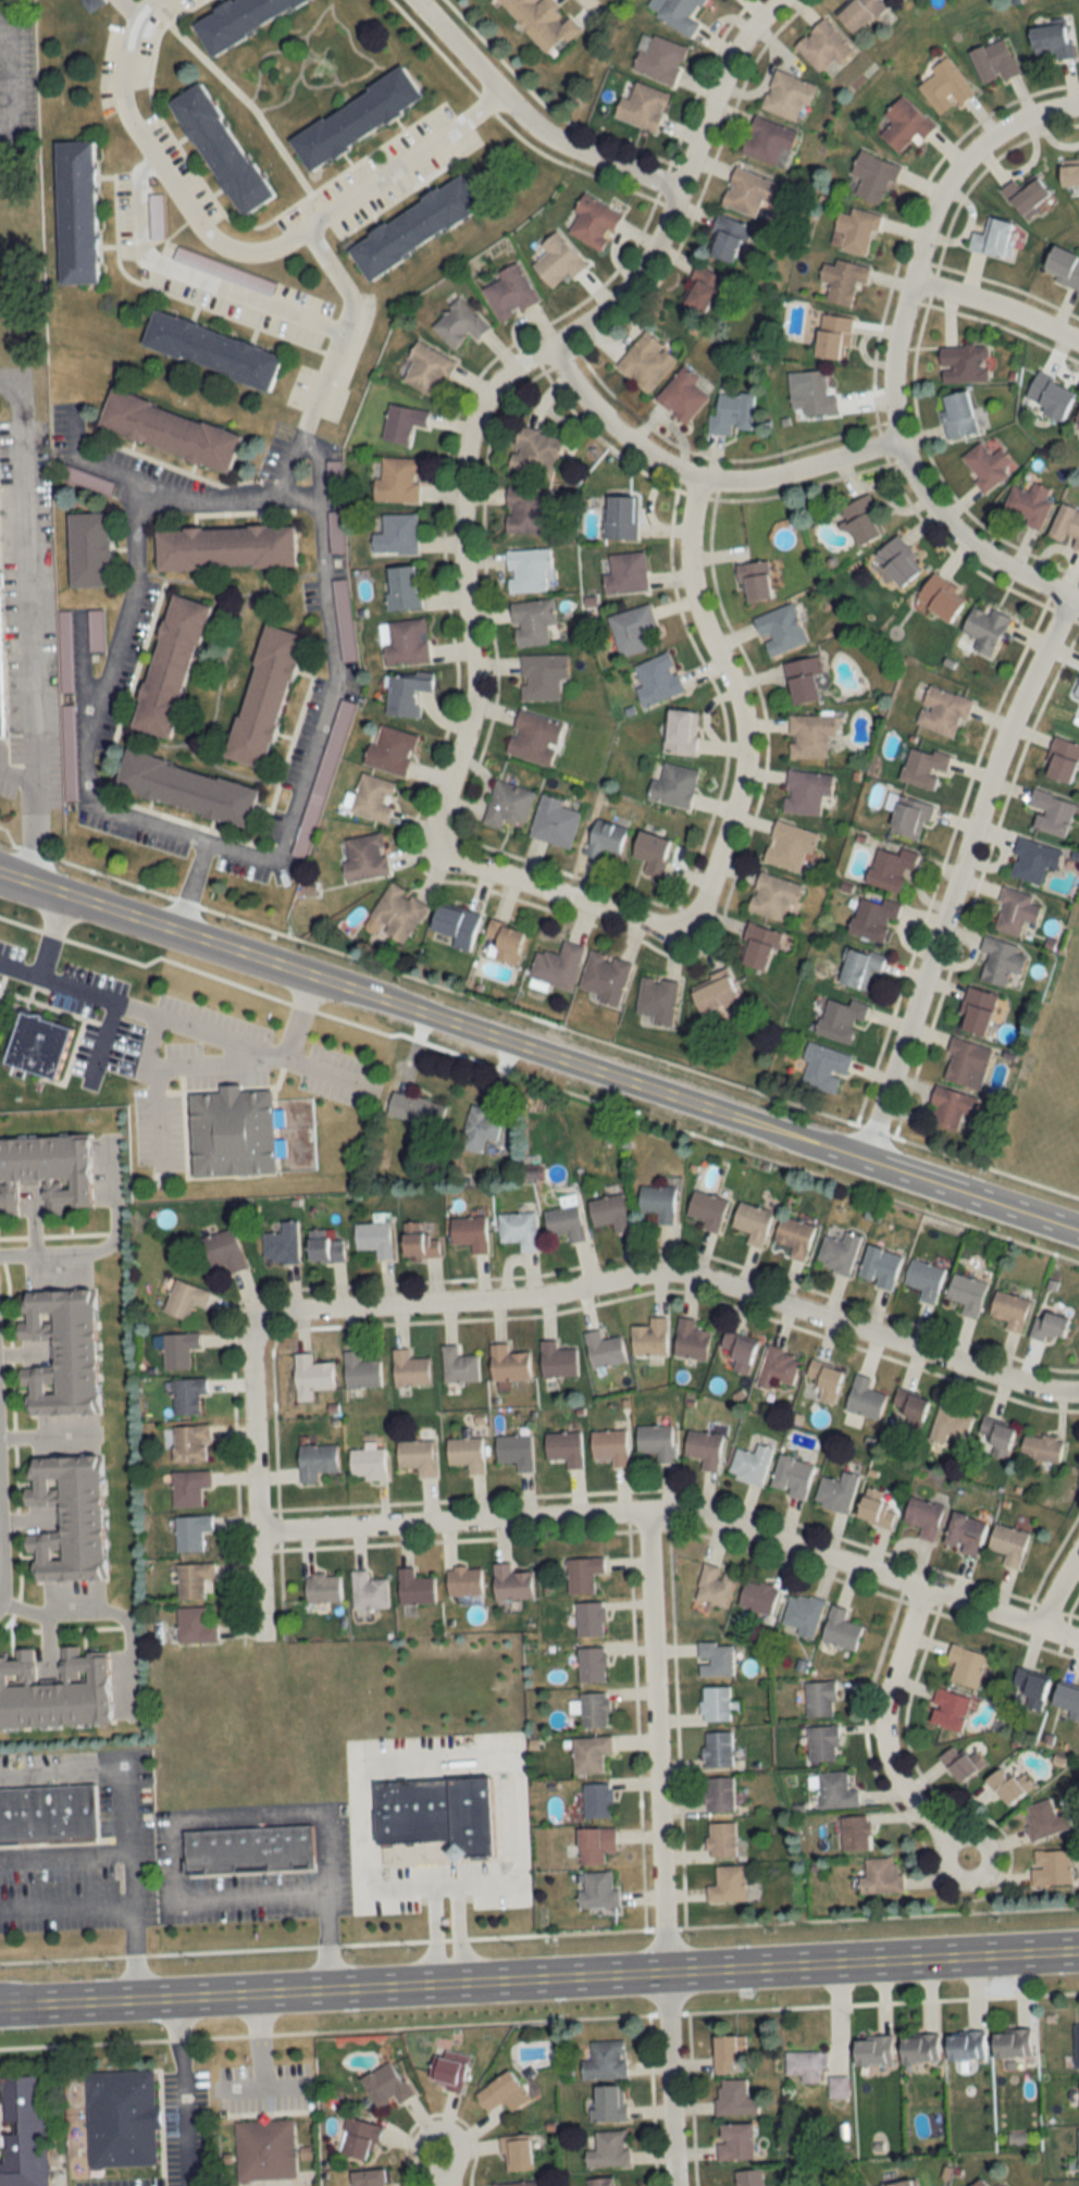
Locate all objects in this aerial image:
road: (587, 2)
building: (858, 13)
building: (679, 14)
building: (238, 20)
building: (539, 23)
building: (1051, 40)
road: (457, 42)
building: (822, 47)
building: (658, 59)
building: (993, 62)
road: (12, 71)
building: (943, 87)
building: (785, 97)
road: (249, 101)
building: (642, 108)
building: (358, 117)
building: (903, 126)
building: (768, 142)
building: (221, 147)
road: (578, 149)
building: (872, 177)
building: (1069, 177)
building: (746, 192)
building: (1026, 197)
building: (77, 212)
building: (153, 218)
building: (592, 222)
building: (416, 225)
road: (921, 229)
building: (854, 231)
building: (725, 238)
building: (992, 239)
road: (236, 252)
building: (556, 262)
building: (1062, 268)
building: (222, 271)
road: (189, 278)
building: (842, 280)
building: (700, 289)
building: (507, 293)
road: (996, 307)
road: (344, 322)
building: (458, 324)
building: (832, 336)
building: (210, 350)
building: (645, 362)
building: (964, 363)
building: (426, 370)
road: (505, 373)
building: (813, 393)
building: (682, 395)
building: (1050, 395)
building: (731, 412)
building: (957, 413)
building: (1076, 419)
building: (402, 422)
building: (175, 430)
building: (534, 452)
road: (90, 462)
building: (985, 464)
road: (317, 467)
road: (286, 474)
building: (396, 480)
road: (695, 481)
building: (1028, 502)
building: (526, 510)
building: (619, 516)
building: (860, 519)
building: (1066, 524)
building: (396, 534)
road: (967, 543)
building: (226, 545)
building: (95, 549)
building: (897, 559)
building: (528, 569)
building: (624, 572)
building: (753, 580)
building: (401, 586)
building: (339, 595)
building: (940, 596)
building: (1, 613)
road: (24, 620)
building: (531, 621)
building: (631, 629)
building: (779, 629)
building: (983, 629)
building: (97, 630)
building: (402, 642)
building: (67, 650)
building: (168, 666)
road: (106, 669)
building: (541, 675)
building: (656, 679)
building: (804, 679)
building: (1077, 688)
road: (333, 690)
building: (405, 694)
building: (262, 696)
building: (941, 710)
building: (680, 732)
building: (809, 735)
building: (533, 736)
building: (389, 749)
building: (67, 752)
building: (1061, 759)
building: (922, 767)
road: (15, 769)
building: (672, 786)
building: (184, 787)
building: (805, 792)
building: (372, 797)
building: (507, 804)
building: (1051, 812)
building: (907, 817)
building: (554, 821)
road: (722, 833)
building: (604, 839)
building: (789, 846)
building: (650, 853)
building: (364, 857)
building: (1031, 860)
building: (890, 868)
road: (957, 877)
road: (189, 884)
building: (773, 896)
building: (1014, 910)
building: (395, 914)
building: (871, 918)
building: (455, 924)
road: (52, 933)
building: (503, 942)
building: (757, 946)
building: (999, 959)
building: (557, 966)
building: (858, 966)
road: (195, 970)
building: (604, 977)
building: (716, 992)
building: (656, 1001)
building: (976, 1010)
road: (144, 1011)
road: (535, 1018)
building: (840, 1019)
road: (106, 1038)
building: (36, 1043)
road: (290, 1051)
road: (538, 1051)
building: (966, 1063)
road: (223, 1065)
building: (822, 1068)
road: (158, 1082)
building: (951, 1107)
building: (414, 1110)
building: (233, 1130)
building: (479, 1130)
building: (45, 1170)
building: (658, 1202)
building: (708, 1210)
building: (609, 1212)
building: (565, 1221)
building: (752, 1222)
building: (518, 1229)
building: (469, 1232)
building: (795, 1237)
building: (372, 1238)
building: (418, 1241)
building: (281, 1244)
road: (103, 1245)
building: (323, 1246)
building: (222, 1251)
building: (839, 1253)
building: (880, 1267)
road: (679, 1274)
building: (925, 1279)
building: (967, 1293)
building: (184, 1299)
building: (1009, 1309)
building: (1046, 1326)
building: (648, 1338)
building: (690, 1340)
building: (177, 1350)
building: (603, 1350)
building: (737, 1351)
building: (60, 1352)
building: (557, 1361)
building: (507, 1364)
building: (458, 1366)
building: (778, 1367)
building: (408, 1369)
building: (360, 1371)
building: (311, 1374)
building: (823, 1380)
building: (187, 1395)
building: (864, 1398)
building: (908, 1406)
building: (948, 1424)
road: (49, 1433)
building: (995, 1437)
building: (655, 1441)
building: (189, 1443)
building: (609, 1446)
building: (565, 1448)
building: (704, 1448)
building: (1041, 1448)
building: (514, 1451)
building: (466, 1453)
building: (416, 1456)
building: (314, 1462)
building: (367, 1463)
building: (751, 1464)
building: (791, 1476)
road: (256, 1477)
building: (188, 1488)
building: (836, 1491)
building: (875, 1508)
road: (678, 1514)
building: (66, 1517)
building: (923, 1517)
building: (190, 1532)
building: (964, 1533)
building: (1008, 1544)
building: (582, 1575)
building: (191, 1580)
building: (462, 1580)
building: (510, 1582)
road: (1056, 1583)
building: (714, 1586)
building: (321, 1588)
building: (413, 1588)
building: (367, 1591)
building: (757, 1597)
road: (104, 1612)
building: (802, 1614)
building: (588, 1619)
building: (194, 1626)
building: (840, 1630)
building: (715, 1659)
building: (591, 1664)
building: (966, 1666)
building: (1029, 1689)
building: (53, 1691)
building: (1067, 1697)
building: (819, 1700)
building: (715, 1703)
building: (593, 1710)
building: (947, 1710)
road: (882, 1738)
building: (822, 1743)
building: (717, 1749)
building: (588, 1753)
road: (451, 1760)
building: (960, 1763)
building: (1006, 1785)
building: (835, 1790)
building: (718, 1796)
building: (596, 1800)
building: (432, 1809)
building: (49, 1811)
road: (226, 1817)
building: (1044, 1819)
building: (855, 1833)
building: (720, 1840)
building: (596, 1845)
building: (246, 1848)
road: (658, 1849)
road: (126, 1865)
building: (1050, 1867)
building: (879, 1876)
building: (728, 1886)
building: (597, 1890)
road: (458, 1934)
road: (434, 1935)
road: (538, 1978)
building: (1010, 2044)
building: (965, 2046)
building: (1076, 2046)
building: (919, 2049)
building: (872, 2050)
building: (727, 2051)
building: (604, 2061)
building: (805, 2065)
building: (445, 2071)
building: (384, 2084)
building: (838, 2087)
road: (183, 2092)
building: (500, 2094)
building: (732, 2098)
building: (608, 2103)
building: (125, 2117)
building: (26, 2131)
building: (356, 2138)
building: (734, 2141)
building: (263, 2149)
building: (607, 2150)
building: (1078, 2150)
building: (514, 2153)
road: (441, 2165)
building: (367, 2177)
building: (747, 2178)
building: (598, 2182)
building: (904, 2183)
building: (978, 2183)
building: (512, 2184)

